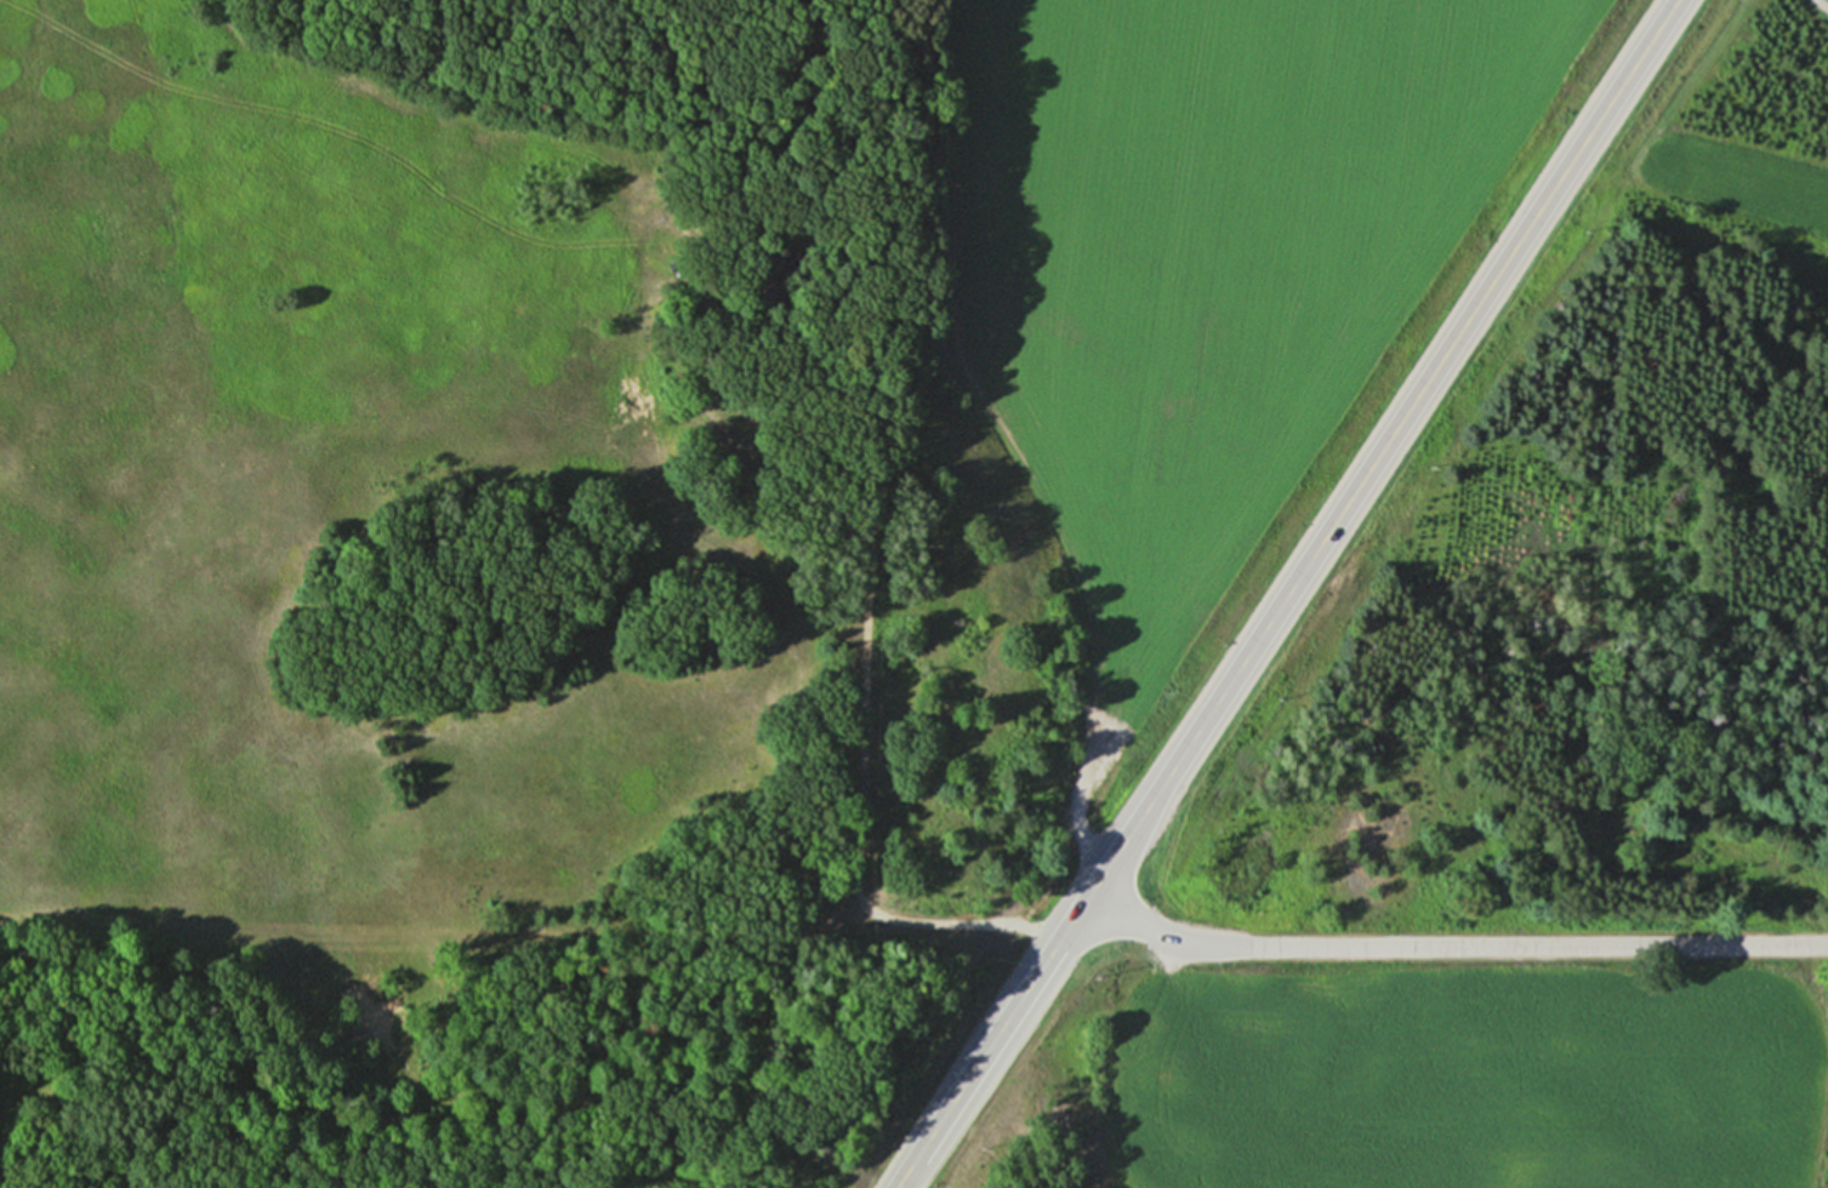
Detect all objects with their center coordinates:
road: (1287, 594)
road: (1442, 944)

